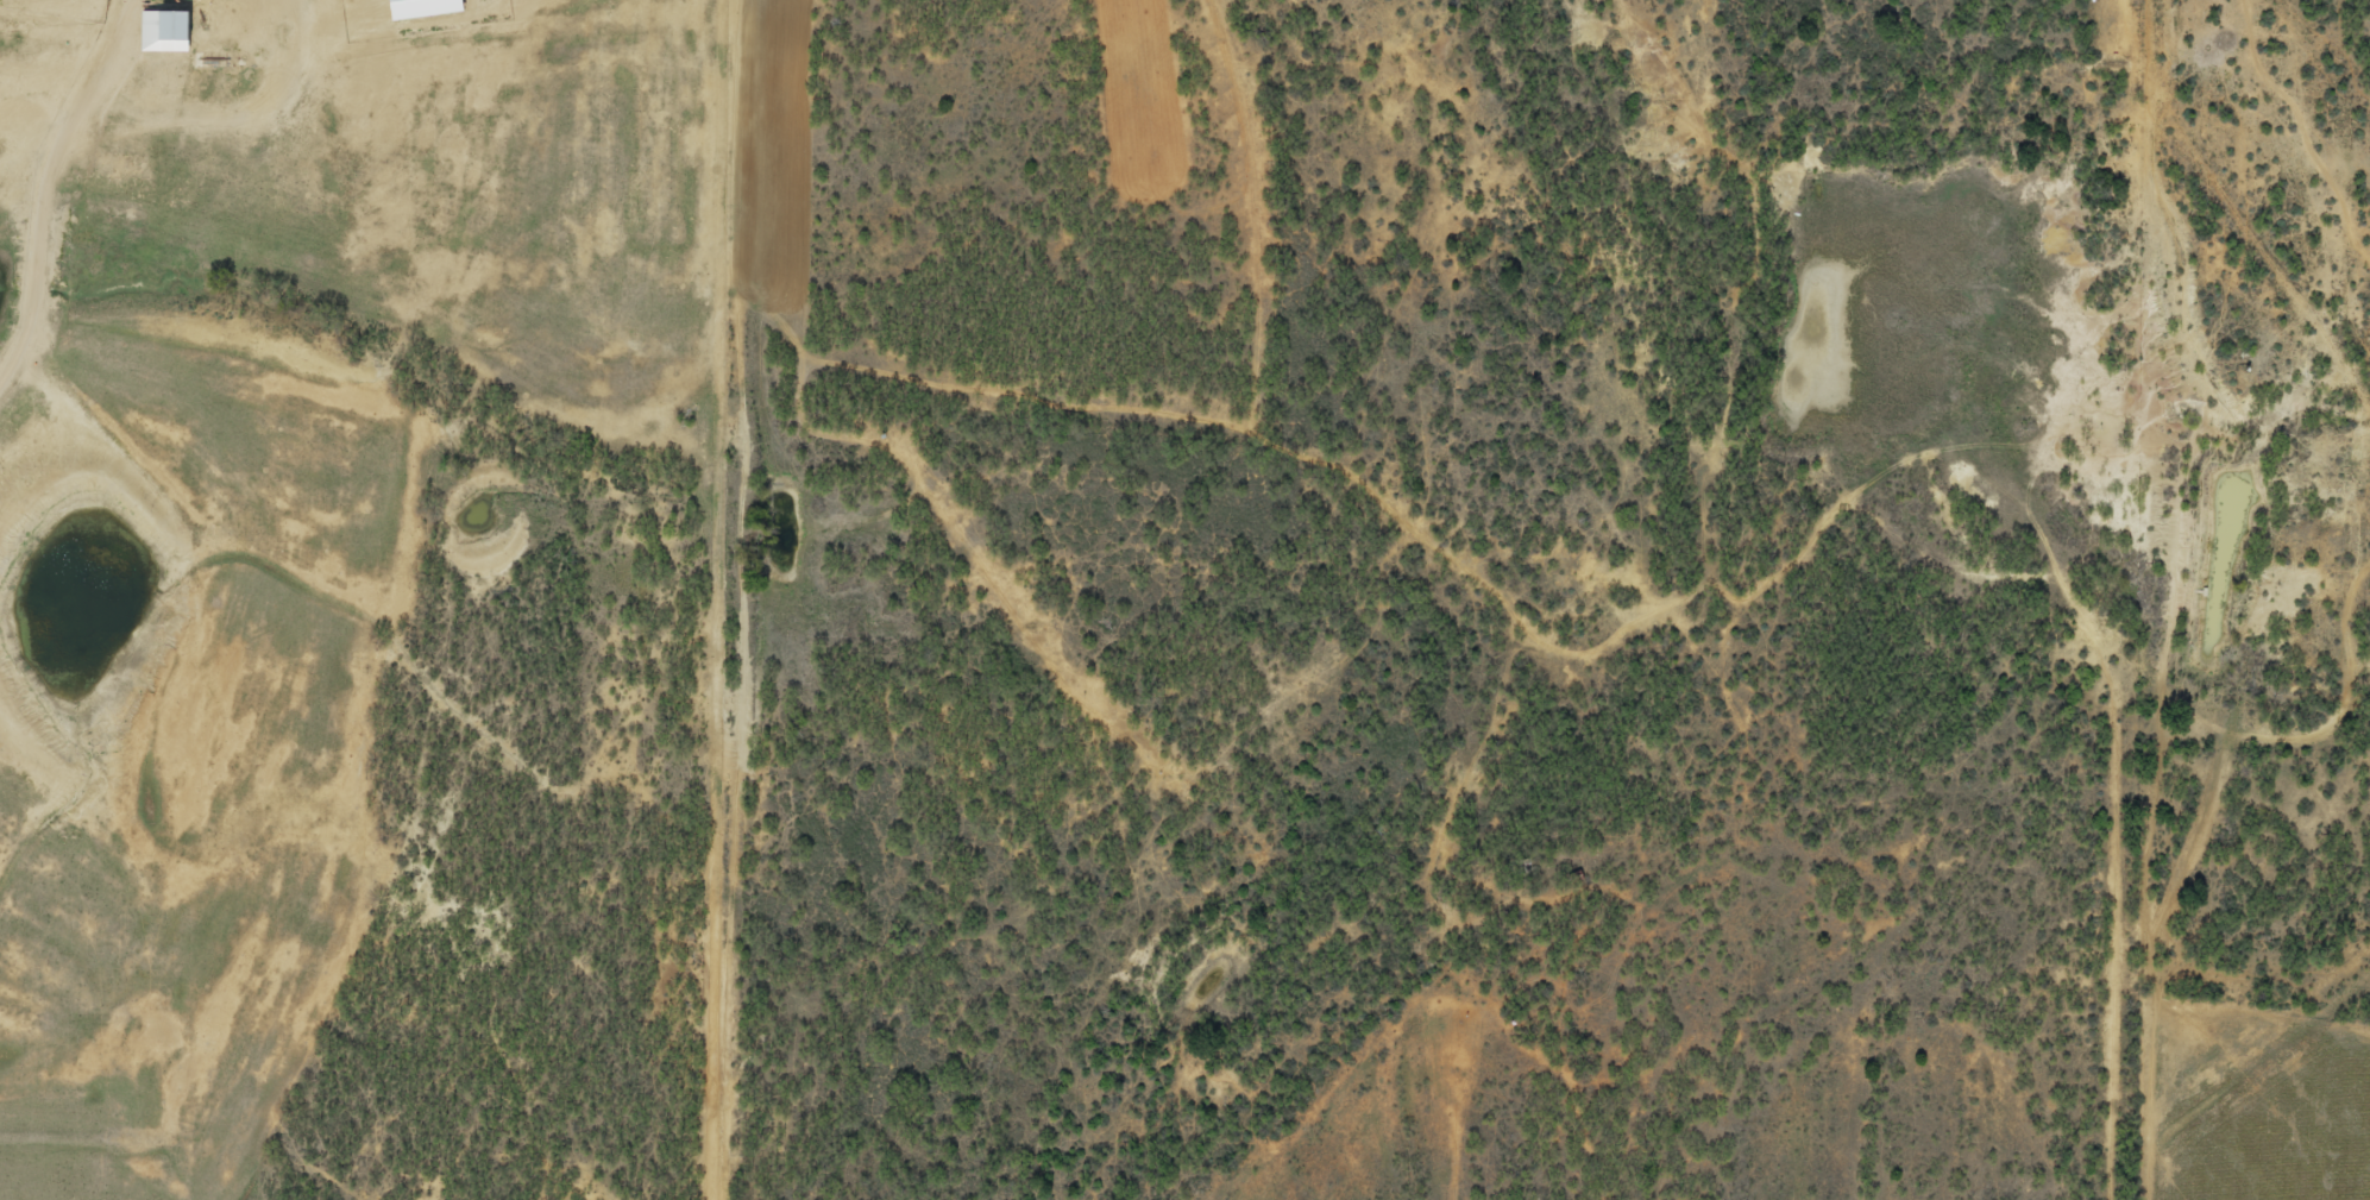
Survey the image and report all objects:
building: (156, 30)
road: (201, 90)
road: (30, 253)
road: (12, 482)
road: (21, 496)
road: (222, 655)

